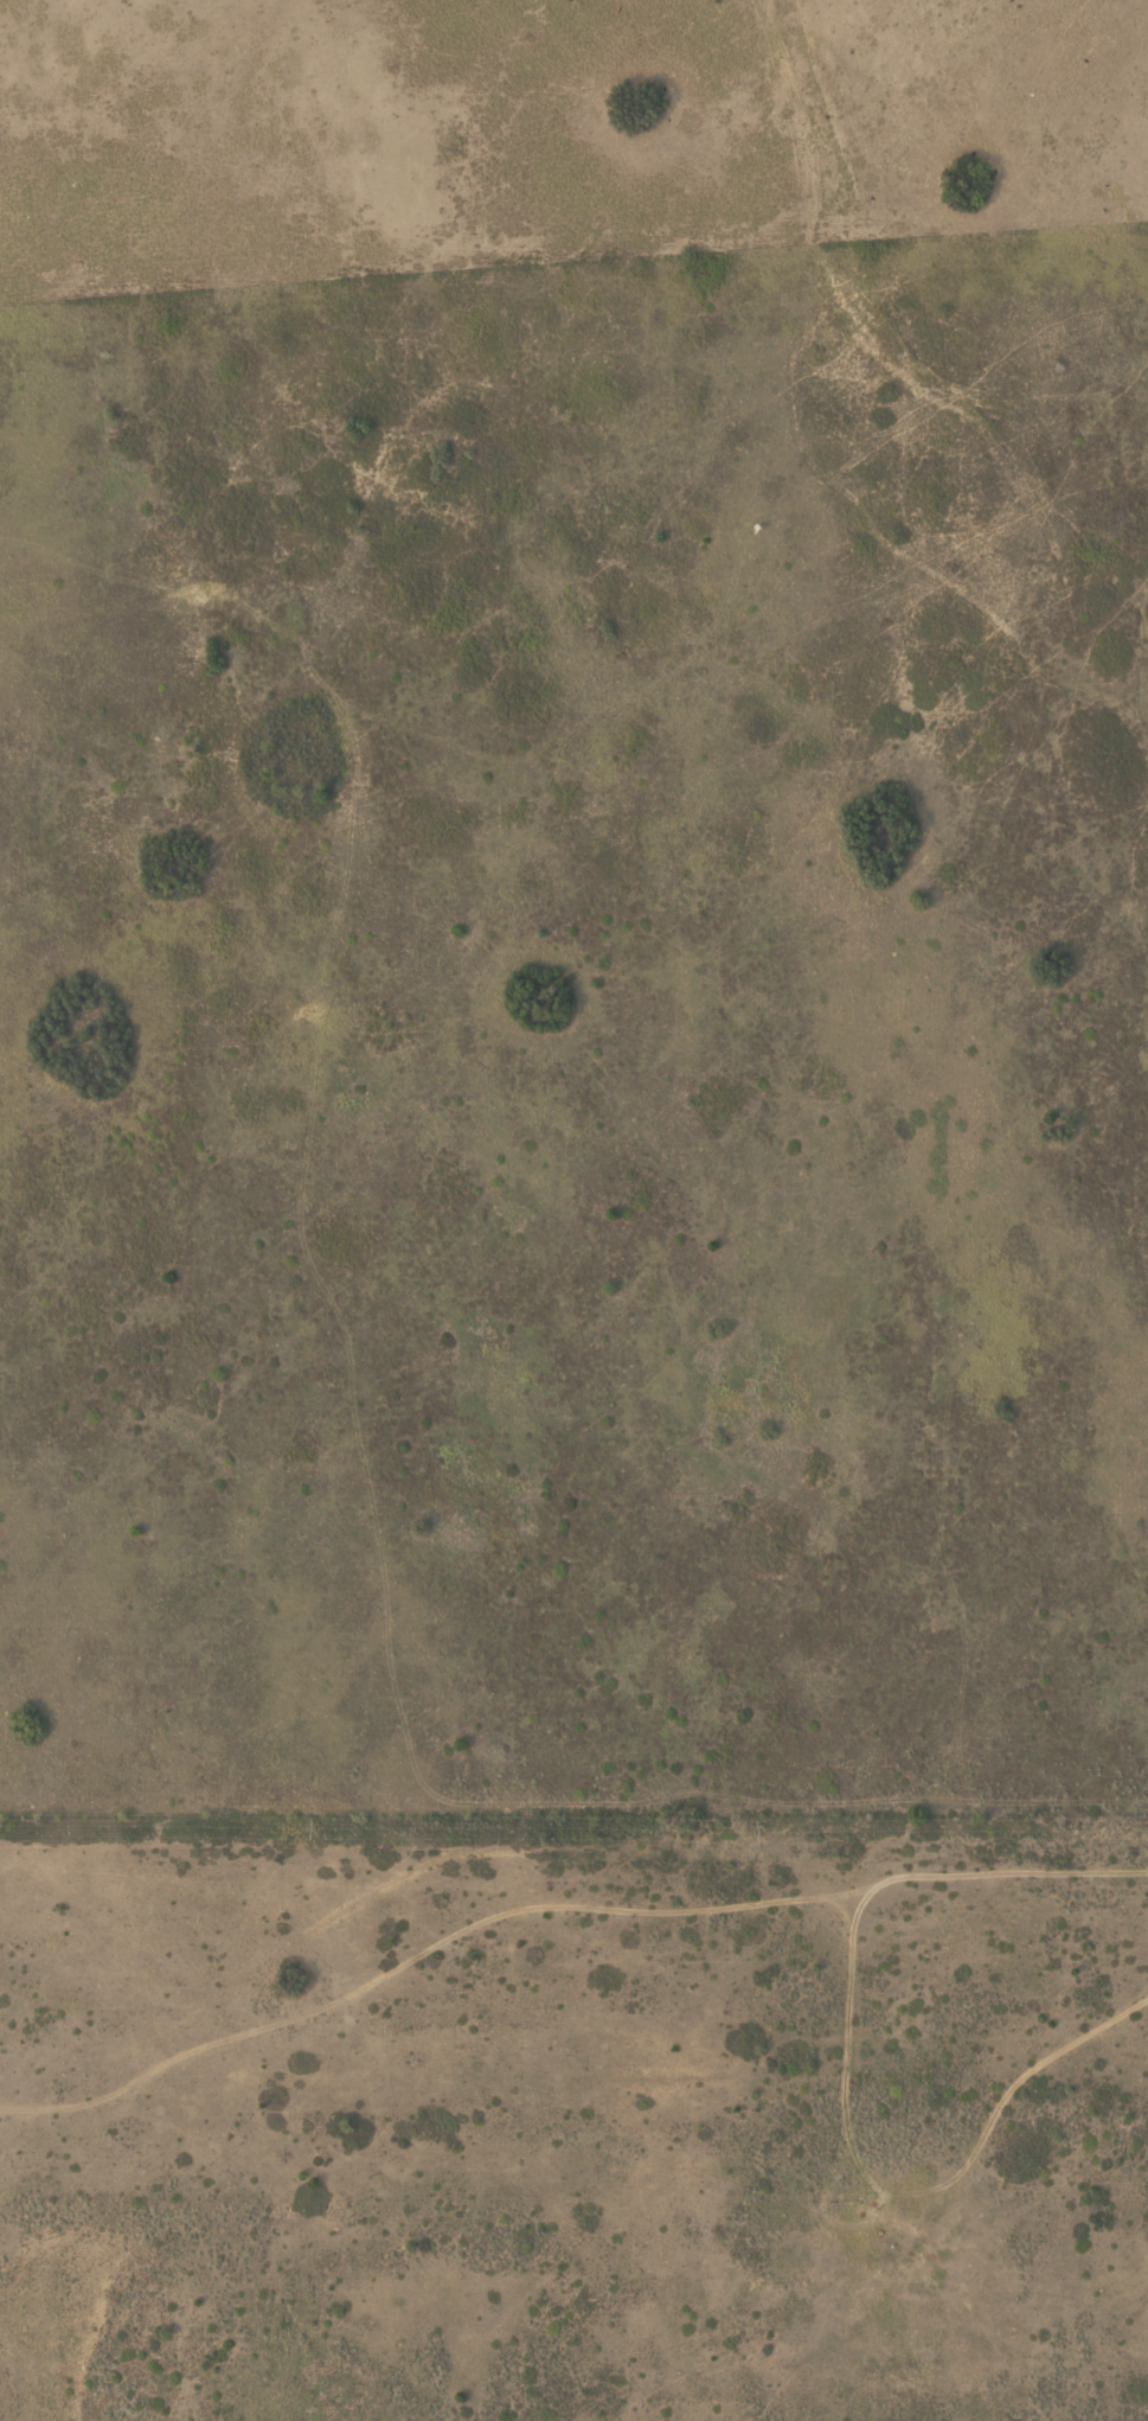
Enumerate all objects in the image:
power tower: (318, 1828)
power tower: (761, 1829)

